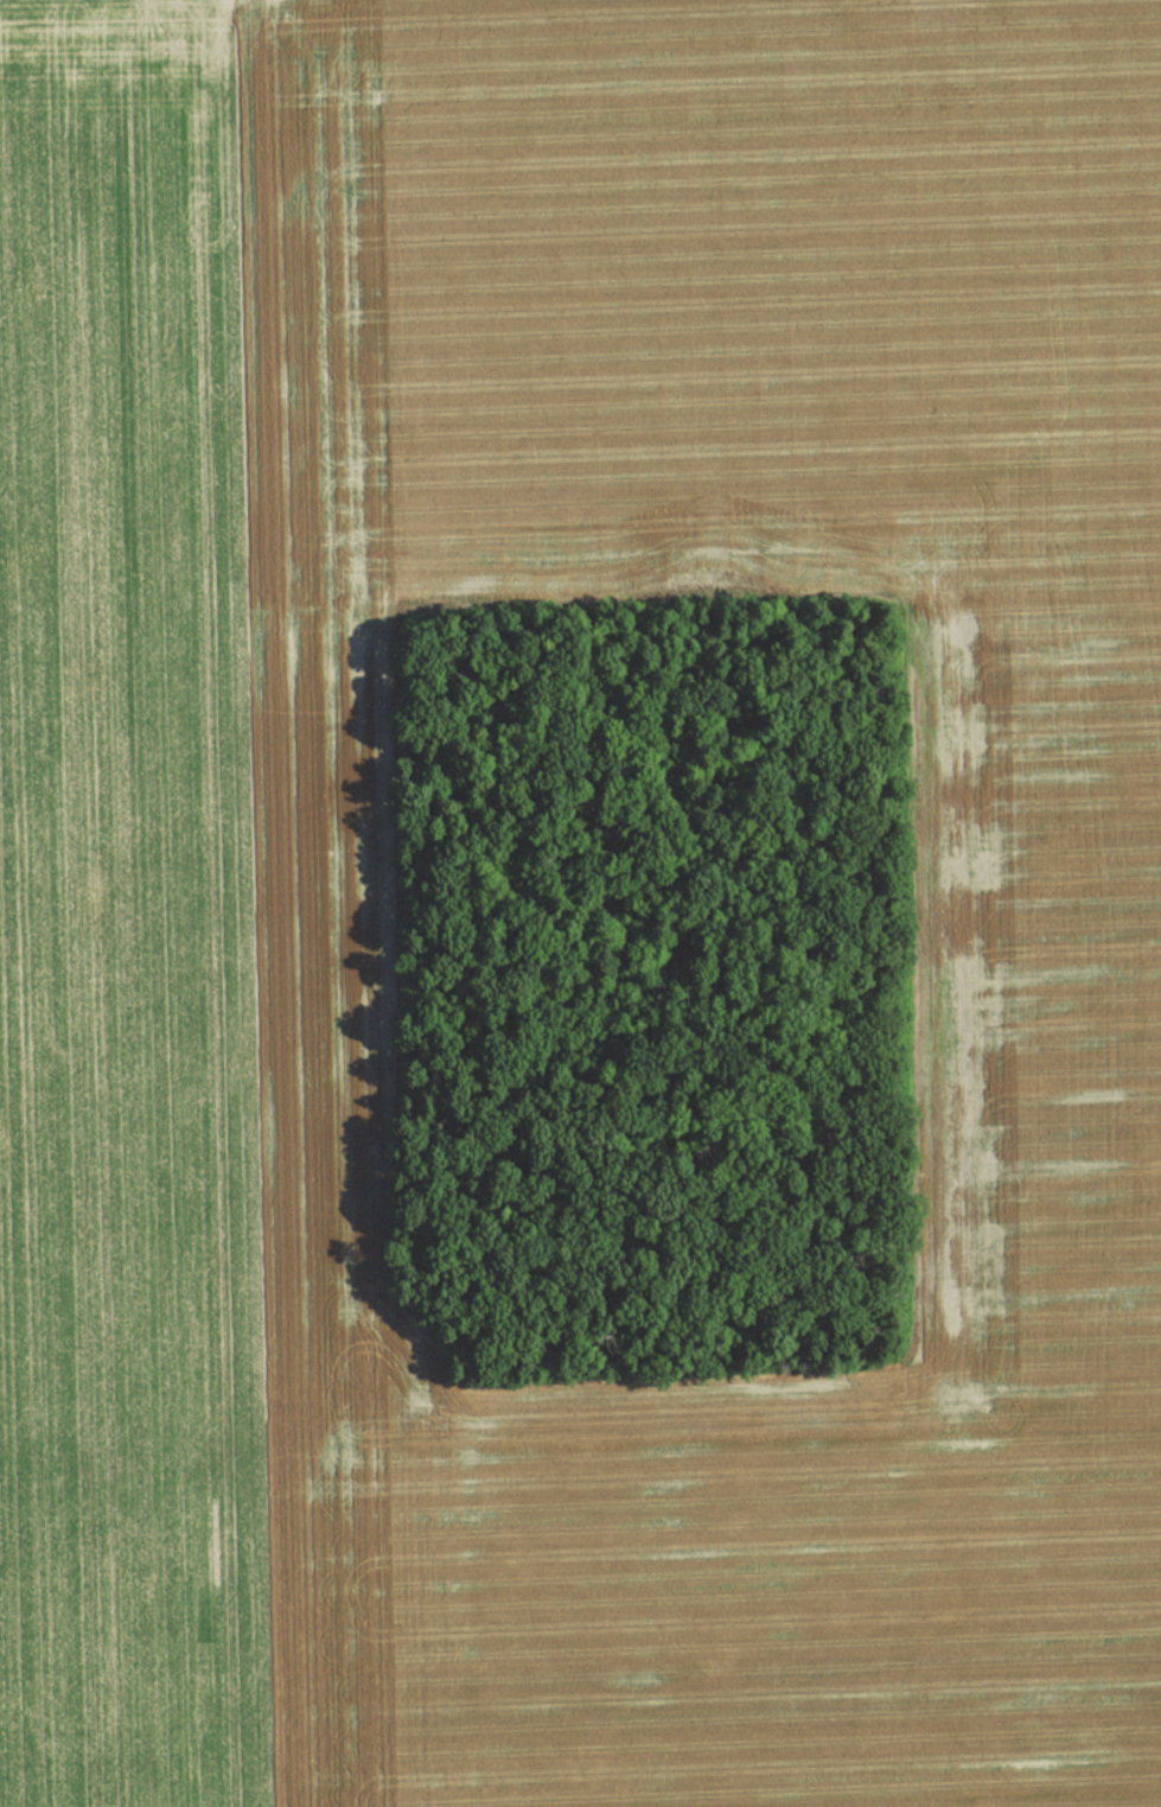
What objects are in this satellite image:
crop: (174, 865)
crop: (1039, 952)

